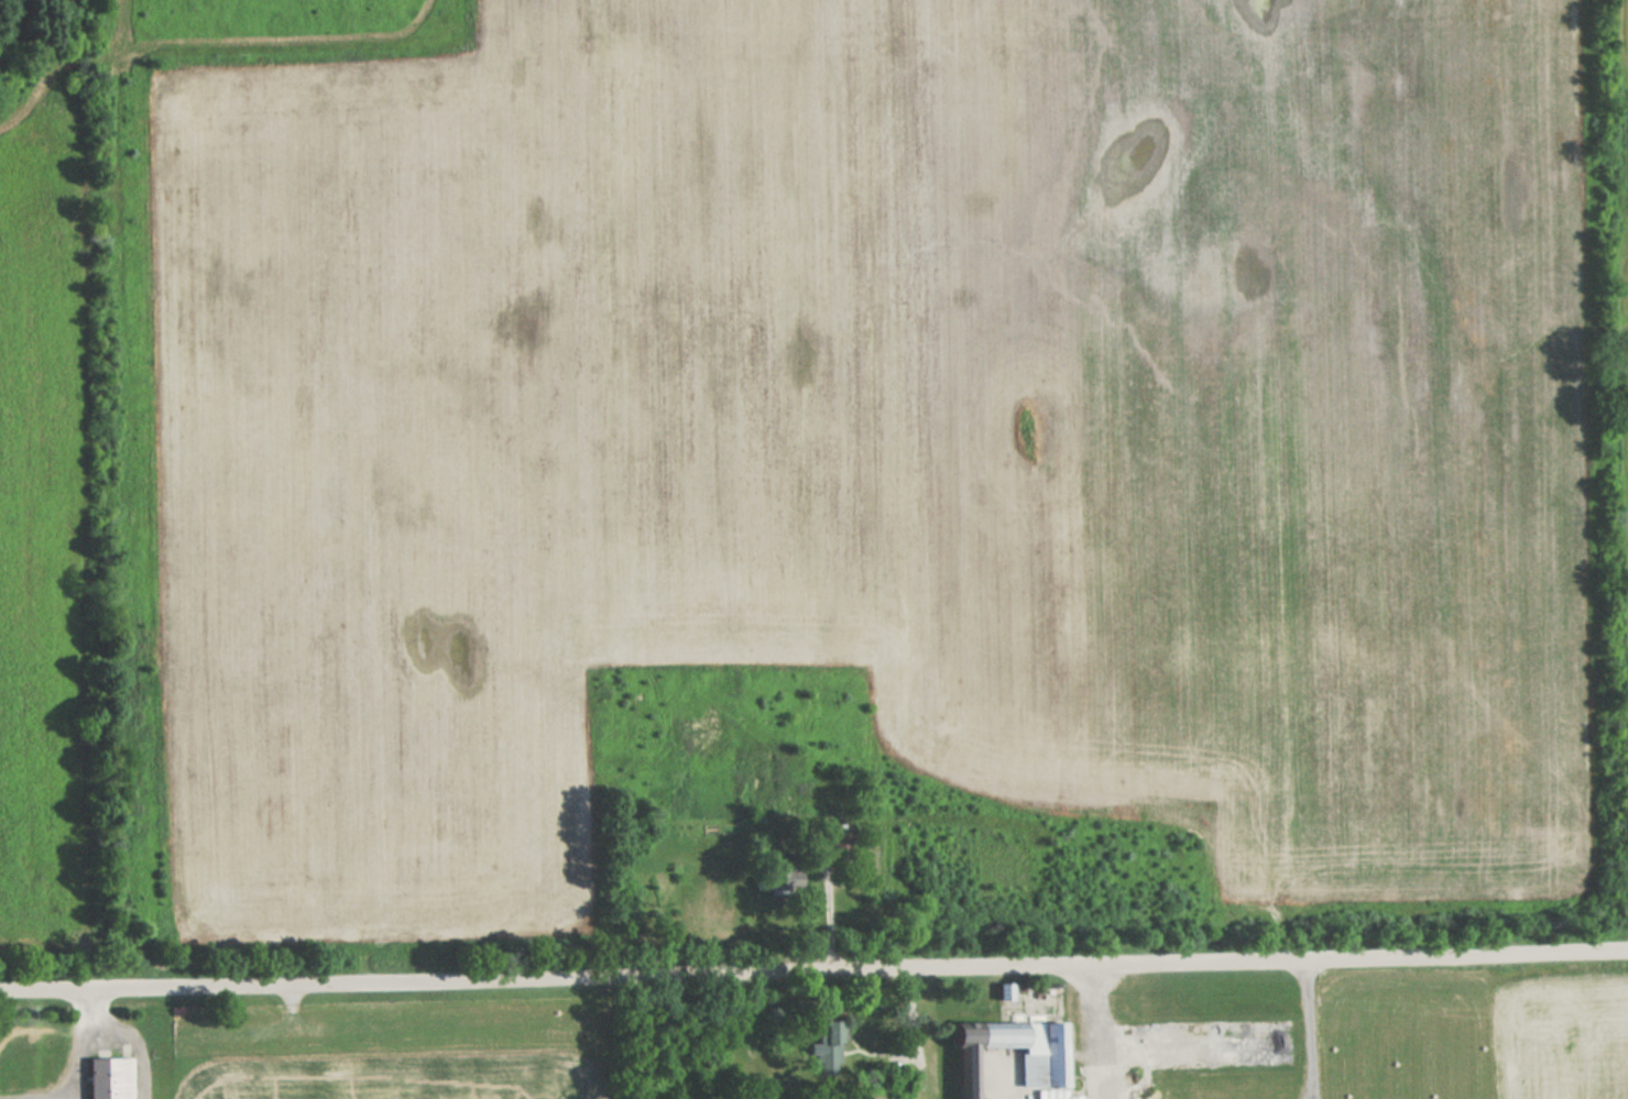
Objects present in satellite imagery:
building: (707, 734)
building: (840, 846)
building: (778, 878)
road: (813, 969)
road: (1313, 1027)
road: (1095, 1031)
road: (132, 1032)
building: (828, 1051)
road: (76, 1053)
building: (1042, 1066)
building: (110, 1077)

